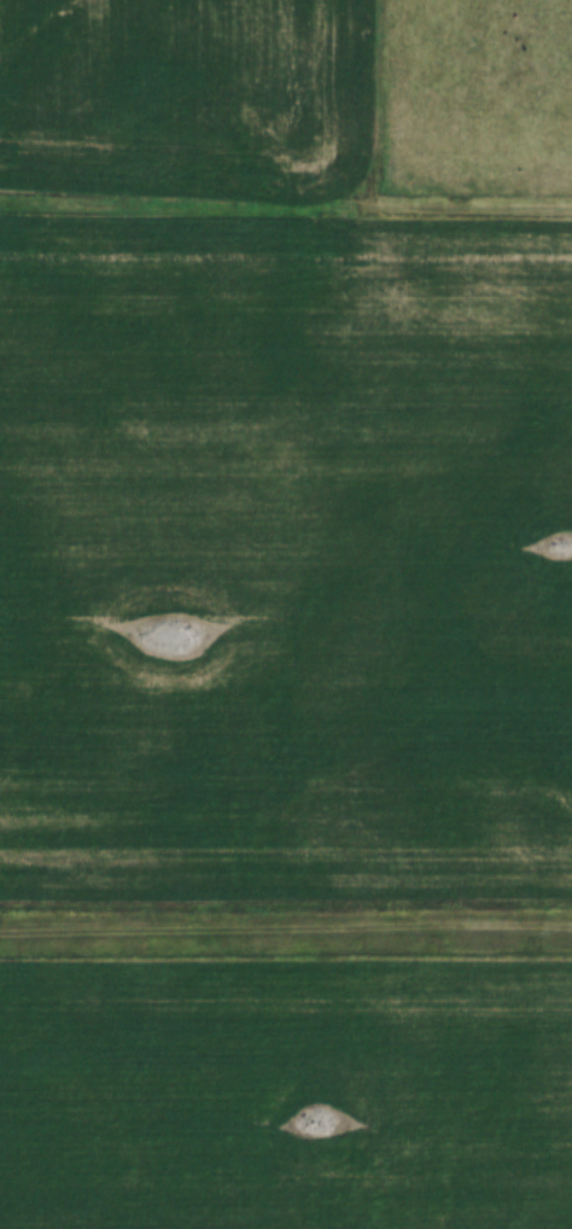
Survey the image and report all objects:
road: (285, 931)

